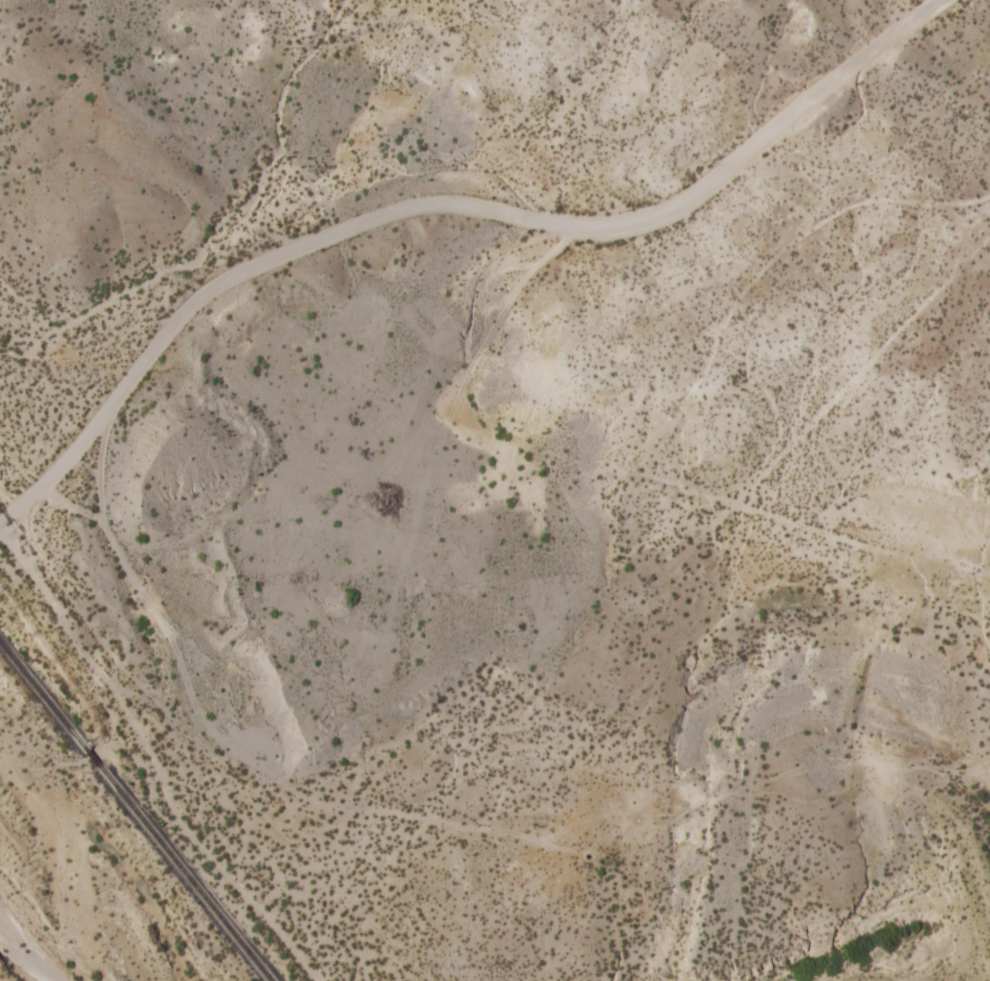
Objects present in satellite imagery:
road: (445, 206)
road: (821, 500)
railway: (42, 693)
railway: (92, 756)
railway: (186, 872)

